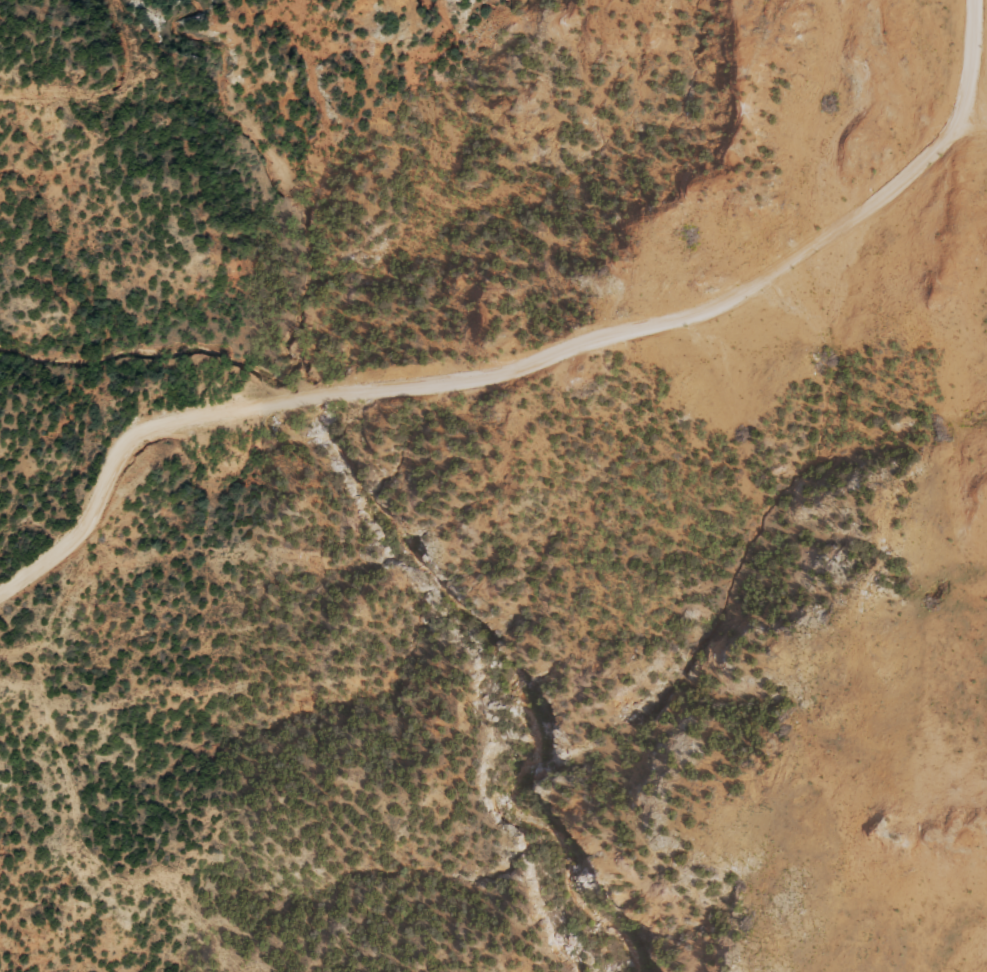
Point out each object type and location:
road: (496, 516)

